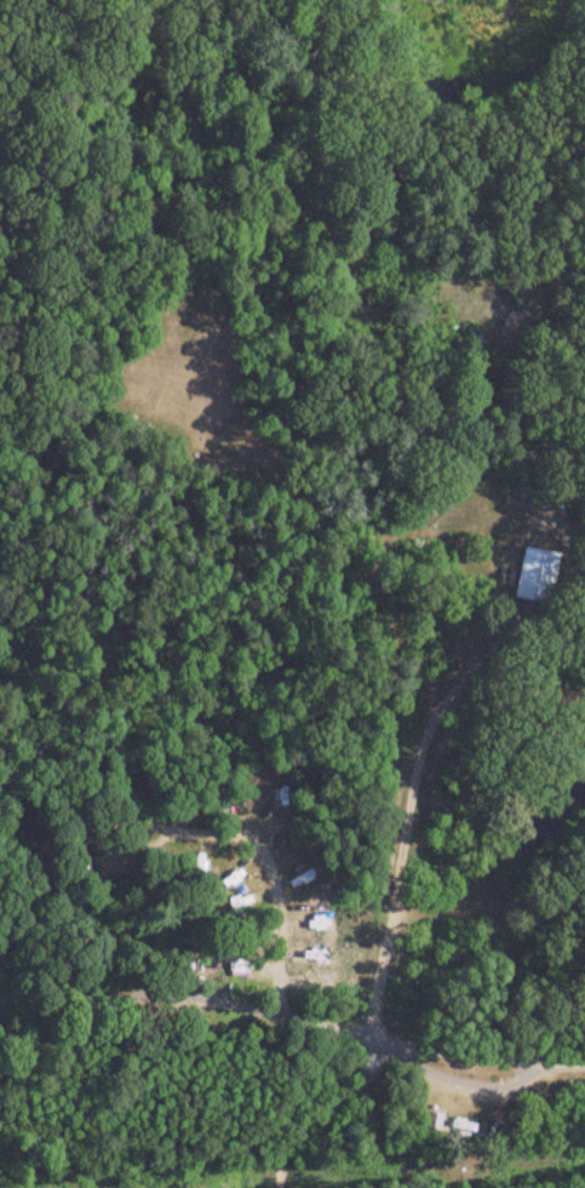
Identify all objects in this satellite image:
building: (534, 575)
park: (292, 593)
road: (511, 883)

